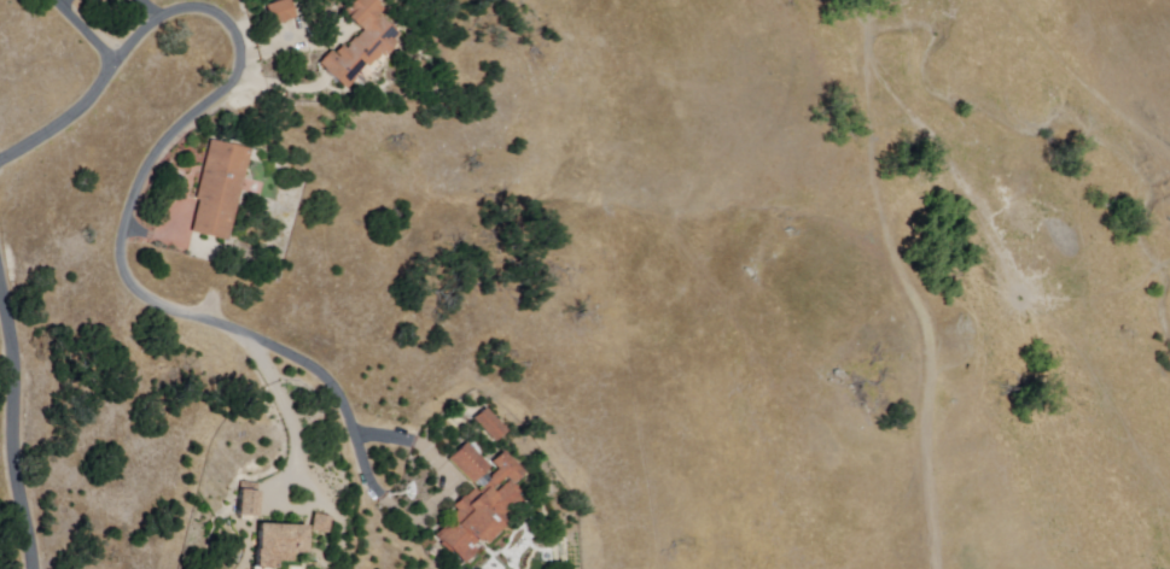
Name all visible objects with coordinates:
building: (279, 11)
road: (88, 31)
building: (361, 42)
road: (228, 87)
building: (221, 188)
road: (910, 283)
road: (291, 416)
road: (17, 424)
building: (487, 426)
building: (470, 464)
road: (379, 493)
building: (245, 501)
building: (484, 510)
building: (320, 524)
building: (275, 545)

